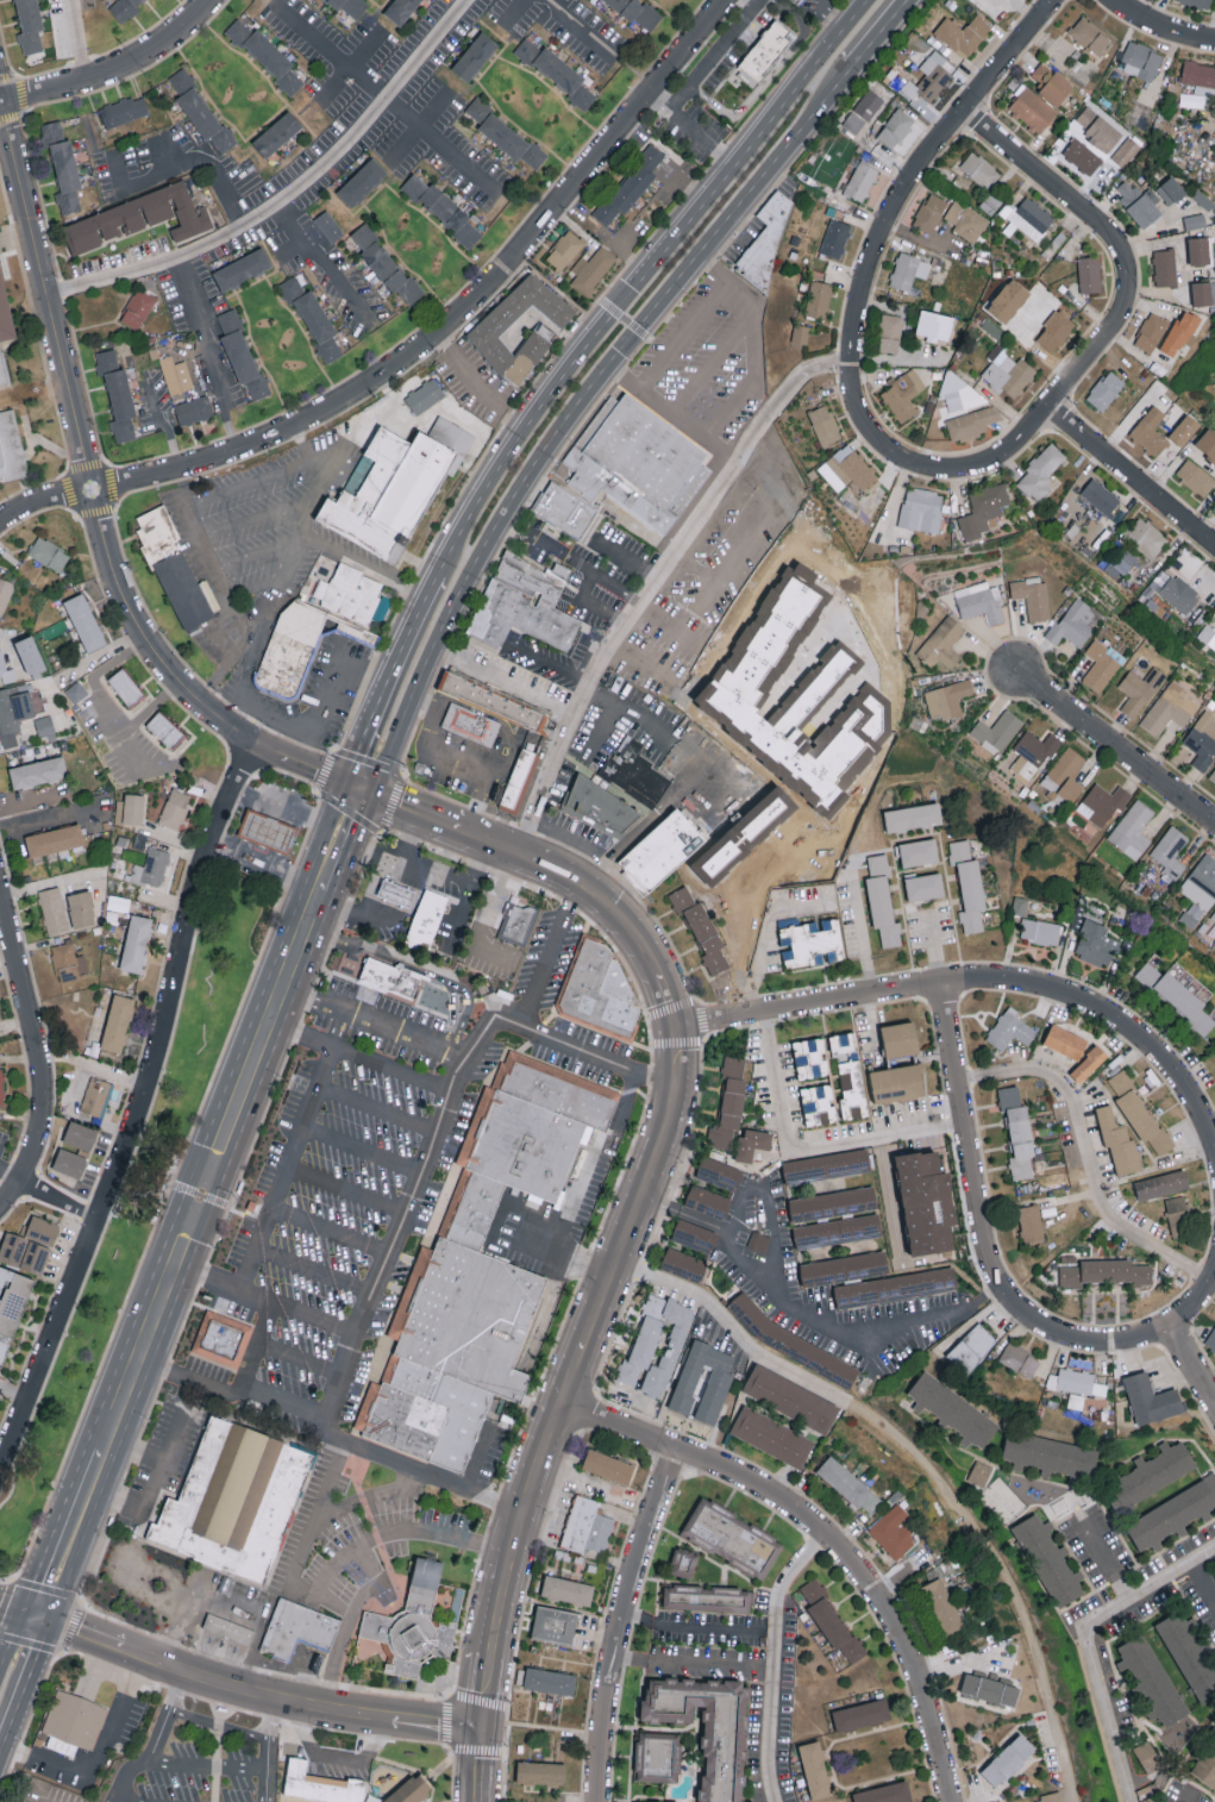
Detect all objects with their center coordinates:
building: (800, 4)
building: (1196, 4)
building: (349, 6)
building: (126, 8)
building: (402, 11)
building: (634, 12)
road: (823, 17)
building: (31, 26)
road: (1159, 27)
road: (882, 35)
building: (952, 36)
building: (1090, 36)
road: (80, 42)
road: (601, 43)
road: (1006, 54)
road: (714, 55)
building: (766, 55)
building: (474, 57)
building: (262, 60)
building: (1140, 61)
road: (115, 68)
road: (774, 70)
building: (1198, 74)
building: (555, 75)
building: (933, 75)
building: (1051, 83)
road: (20, 99)
building: (1033, 108)
building: (863, 111)
building: (202, 112)
building: (124, 114)
parking lot: (356, 123)
building: (895, 127)
building: (1097, 127)
road: (689, 130)
building: (506, 132)
building: (275, 137)
parking lot: (188, 150)
building: (1126, 151)
building: (1083, 156)
building: (869, 157)
building: (62, 169)
building: (979, 169)
road: (209, 175)
building: (860, 180)
building: (359, 182)
building: (633, 187)
road: (690, 190)
building: (1171, 190)
road: (287, 193)
building: (1139, 202)
building: (440, 209)
building: (929, 212)
building: (1028, 218)
building: (137, 219)
building: (965, 220)
building: (1194, 220)
building: (327, 226)
road: (1115, 236)
building: (834, 238)
building: (766, 243)
road: (620, 244)
building: (564, 249)
building: (1198, 251)
road: (318, 252)
building: (383, 265)
building: (1164, 267)
building: (909, 270)
building: (240, 271)
building: (1089, 274)
road: (639, 279)
road: (865, 281)
road: (60, 288)
traffic signals: (630, 290)
building: (1203, 293)
building: (819, 299)
building: (137, 307)
road: (461, 314)
building: (4, 315)
building: (311, 320)
road: (622, 320)
road: (35, 325)
building: (934, 325)
building: (1054, 327)
building: (889, 332)
building: (1151, 332)
building: (801, 333)
building: (1179, 333)
building: (488, 334)
road: (684, 337)
road: (215, 349)
building: (244, 355)
traffic signals: (620, 355)
parking lot: (713, 359)
road: (627, 364)
road: (709, 367)
building: (2, 371)
building: (1007, 371)
road: (464, 373)
building: (170, 374)
building: (1106, 389)
building: (903, 394)
building: (424, 395)
building: (115, 396)
road: (738, 401)
road: (575, 412)
building: (194, 413)
road: (163, 421)
building: (970, 424)
building: (823, 425)
building: (1184, 430)
building: (1150, 431)
building: (451, 433)
building: (1207, 443)
building: (11, 449)
road: (330, 449)
road: (306, 458)
building: (639, 462)
road: (988, 463)
building: (846, 469)
road: (67, 471)
building: (1041, 471)
road: (1131, 474)
building: (1195, 477)
road: (248, 483)
building: (387, 492)
building: (1101, 495)
road: (456, 498)
road: (94, 500)
road: (44, 502)
building: (921, 509)
building: (984, 509)
building: (564, 512)
road: (262, 513)
road: (300, 518)
building: (158, 527)
building: (1146, 537)
road: (538, 539)
road: (757, 540)
road: (255, 553)
building: (48, 556)
road: (628, 557)
building: (1117, 558)
road: (361, 562)
road: (215, 574)
building: (533, 576)
parking lot: (709, 578)
road: (276, 581)
road: (652, 582)
building: (182, 588)
building: (5, 593)
building: (350, 593)
building: (1034, 597)
road: (589, 601)
road: (639, 602)
road: (696, 609)
building: (530, 613)
building: (1072, 622)
building: (84, 624)
building: (488, 630)
building: (1207, 636)
building: (941, 643)
building: (290, 649)
building: (31, 657)
road: (112, 662)
building: (1, 663)
road: (225, 663)
road: (644, 663)
road: (555, 664)
building: (1101, 664)
road: (144, 668)
road: (238, 681)
road: (384, 681)
road: (502, 683)
building: (124, 688)
building: (1139, 689)
building: (76, 692)
road: (325, 692)
building: (490, 697)
building: (947, 699)
road: (425, 702)
road: (151, 708)
building: (1169, 709)
building: (14, 712)
road: (502, 720)
building: (470, 725)
road: (646, 727)
building: (164, 730)
building: (996, 731)
road: (599, 736)
building: (1202, 739)
road: (125, 740)
parking lot: (129, 747)
road: (1117, 747)
building: (1033, 752)
road: (465, 770)
building: (38, 772)
building: (1065, 774)
building: (1213, 775)
building: (518, 777)
road: (685, 781)
road: (397, 783)
building: (616, 791)
traffic signals: (358, 794)
road: (317, 796)
building: (1102, 802)
building: (132, 807)
building: (175, 807)
road: (286, 812)
building: (913, 815)
road: (52, 816)
road: (438, 825)
building: (1132, 828)
road: (253, 831)
building: (267, 831)
road: (408, 837)
building: (54, 838)
road: (339, 840)
road: (282, 841)
building: (662, 849)
building: (1170, 850)
building: (919, 851)
road: (357, 856)
building: (151, 866)
road: (265, 866)
building: (1201, 882)
road: (446, 883)
building: (969, 884)
building: (925, 886)
building: (394, 896)
road: (466, 896)
building: (882, 900)
road: (862, 903)
road: (338, 906)
building: (81, 907)
building: (52, 908)
road: (488, 918)
building: (426, 921)
building: (518, 924)
building: (702, 931)
building: (1039, 931)
road: (768, 934)
road: (399, 939)
building: (136, 941)
building: (812, 941)
building: (1095, 941)
road: (929, 950)
road: (547, 956)
building: (68, 959)
building: (393, 976)
road: (983, 980)
building: (1195, 984)
building: (600, 993)
building: (1176, 995)
road: (436, 1014)
building: (117, 1021)
road: (372, 1025)
traffic signals: (675, 1027)
building: (1009, 1028)
building: (900, 1038)
building: (841, 1040)
building: (1065, 1040)
road: (39, 1053)
building: (810, 1056)
building: (1088, 1062)
road: (882, 1064)
road: (94, 1068)
road: (389, 1068)
building: (896, 1081)
road: (76, 1082)
building: (1, 1085)
building: (557, 1090)
building: (850, 1093)
building: (96, 1099)
building: (729, 1101)
building: (818, 1103)
road: (376, 1108)
road: (138, 1110)
building: (1140, 1113)
building: (1017, 1131)
building: (80, 1134)
road: (294, 1139)
building: (1117, 1139)
road: (11, 1140)
building: (752, 1141)
building: (521, 1144)
road: (361, 1150)
road: (812, 1150)
road: (1086, 1159)
building: (69, 1162)
building: (826, 1164)
road: (211, 1170)
building: (718, 1172)
road: (420, 1174)
road: (11, 1175)
park: (144, 1176)
road: (578, 1183)
building: (1161, 1183)
road: (344, 1193)
road: (199, 1194)
road: (58, 1197)
building: (707, 1199)
building: (926, 1200)
building: (472, 1210)
building: (1177, 1214)
building: (1031, 1222)
building: (837, 1230)
road: (328, 1231)
building: (694, 1234)
road: (982, 1234)
road: (518, 1237)
building: (758, 1240)
building: (30, 1243)
parking lot: (317, 1254)
road: (616, 1260)
building: (684, 1263)
road: (745, 1265)
building: (1106, 1271)
road: (311, 1274)
road: (777, 1276)
building: (895, 1287)
building: (11, 1303)
road: (1197, 1303)
building: (472, 1319)
building: (1210, 1339)
road: (891, 1341)
building: (219, 1343)
building: (656, 1344)
road: (252, 1347)
building: (971, 1347)
building: (1019, 1359)
road: (1195, 1363)
road: (295, 1364)
building: (414, 1378)
building: (1076, 1381)
building: (715, 1390)
road: (14, 1393)
building: (790, 1397)
building: (1151, 1397)
road: (274, 1406)
road: (653, 1408)
building: (953, 1408)
building: (406, 1422)
building: (462, 1434)
building: (772, 1435)
building: (1048, 1453)
road: (478, 1458)
road: (925, 1464)
building: (608, 1465)
road: (158, 1472)
building: (979, 1472)
building: (1152, 1473)
road: (419, 1476)
building: (848, 1484)
building: (240, 1500)
road: (401, 1513)
building: (1172, 1514)
road: (375, 1527)
building: (589, 1528)
building: (894, 1531)
road: (313, 1532)
road: (71, 1535)
road: (102, 1535)
building: (732, 1537)
road: (825, 1538)
road: (1109, 1557)
road: (370, 1559)
building: (1048, 1559)
building: (683, 1562)
road: (332, 1566)
road: (1203, 1587)
building: (568, 1589)
building: (108, 1591)
building: (707, 1597)
road: (79, 1606)
building: (944, 1606)
road: (18, 1612)
traffic signals: (37, 1618)
road: (622, 1621)
building: (832, 1621)
road: (691, 1626)
building: (555, 1627)
building: (413, 1628)
building: (298, 1631)
building: (230, 1633)
road: (13, 1634)
road: (1089, 1640)
building: (1186, 1650)
road: (771, 1660)
road: (684, 1663)
road: (92, 1673)
building: (1151, 1678)
building: (549, 1679)
road: (211, 1684)
road: (26, 1685)
building: (990, 1689)
building: (862, 1714)
building: (70, 1720)
road: (278, 1720)
road: (447, 1720)
road: (218, 1725)
road: (438, 1725)
building: (707, 1727)
traffic signals: (482, 1729)
road: (155, 1742)
road: (268, 1751)
road: (503, 1754)
road: (336, 1756)
building: (657, 1756)
road: (96, 1758)
building: (1008, 1759)
building: (1205, 1762)
road: (207, 1763)
parking lot: (196, 1764)
road: (481, 1765)
building: (815, 1769)
building: (541, 1772)
building: (320, 1783)
building: (417, 1791)
building: (884, 1792)
parking lot: (50, 1795)
building: (1050, 1797)
building: (641, 1801)
road: (1186, 1801)

